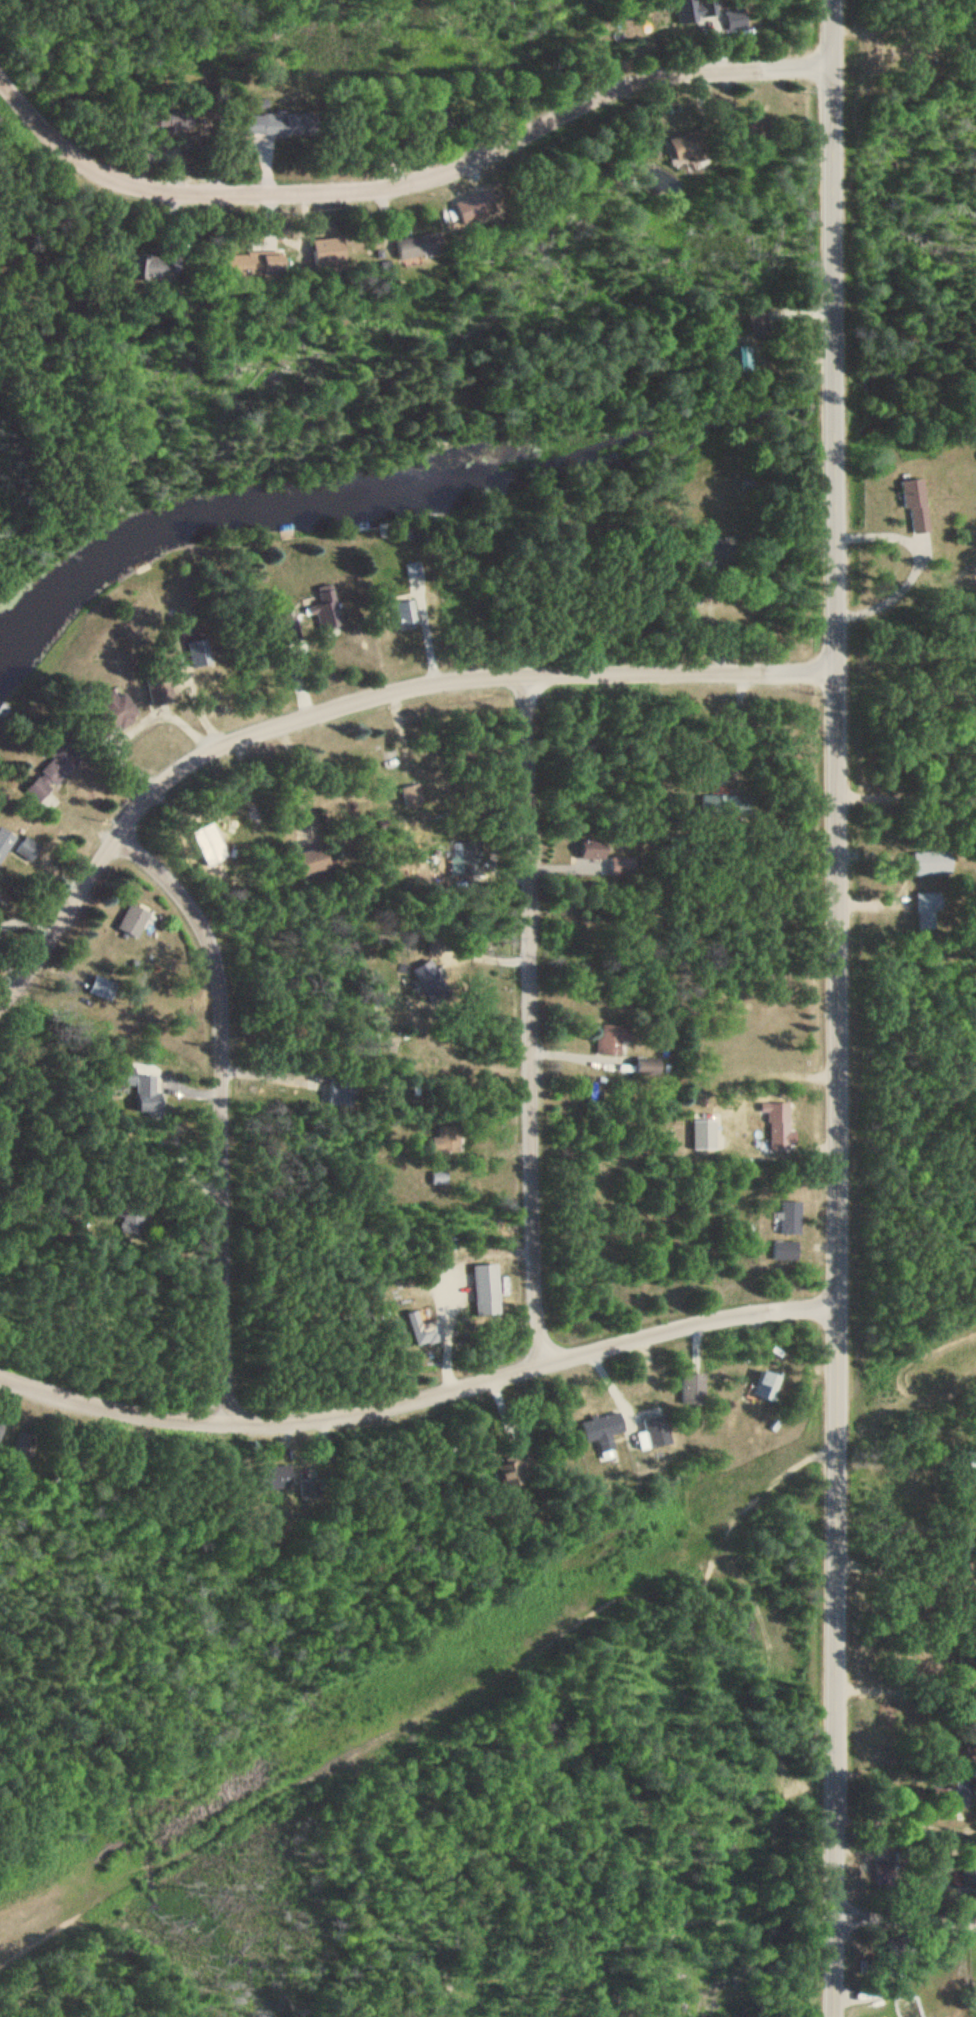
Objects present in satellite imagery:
building: (731, 20)
building: (282, 123)
building: (689, 146)
road: (402, 186)
building: (416, 246)
building: (157, 270)
building: (754, 330)
building: (917, 506)
building: (291, 628)
road: (345, 702)
building: (112, 712)
building: (54, 772)
building: (412, 794)
building: (725, 806)
building: (5, 841)
building: (592, 849)
building: (26, 850)
building: (315, 860)
building: (933, 862)
building: (928, 909)
building: (133, 922)
building: (426, 974)
road: (834, 1008)
road: (532, 1022)
building: (612, 1039)
building: (649, 1067)
building: (153, 1084)
building: (336, 1091)
road: (225, 1109)
building: (781, 1134)
building: (446, 1139)
building: (790, 1218)
building: (130, 1219)
building: (785, 1252)
building: (486, 1283)
building: (422, 1326)
building: (767, 1386)
building: (692, 1390)
road: (424, 1401)
building: (596, 1431)
building: (652, 1432)
building: (973, 1460)
building: (522, 1472)
building: (281, 1479)
road: (905, 1691)
road: (440, 1711)
building: (888, 1873)
road: (904, 1915)
building: (898, 1951)

